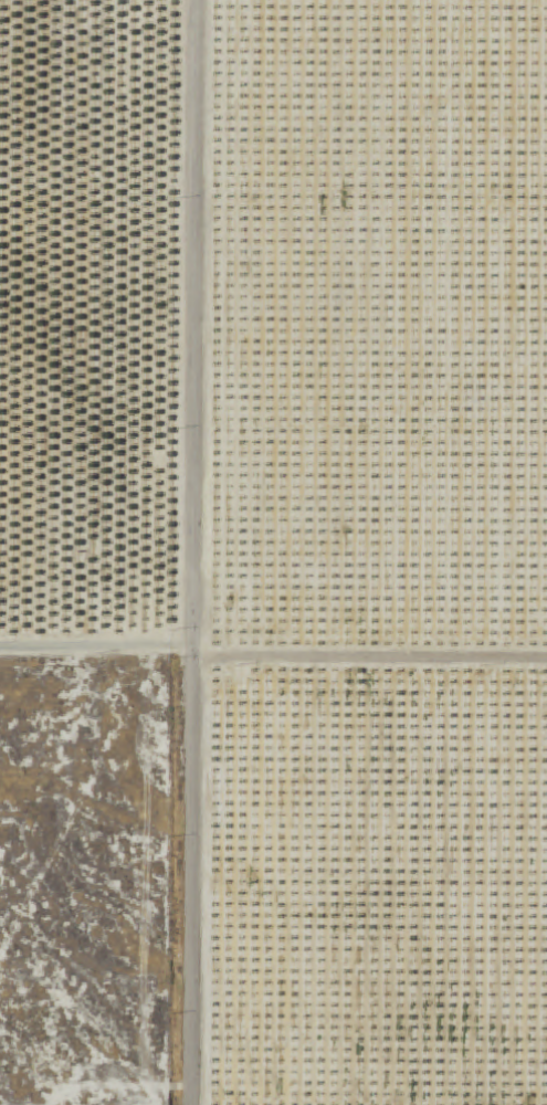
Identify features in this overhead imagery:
road: (191, 551)
road: (95, 648)
road: (369, 666)

